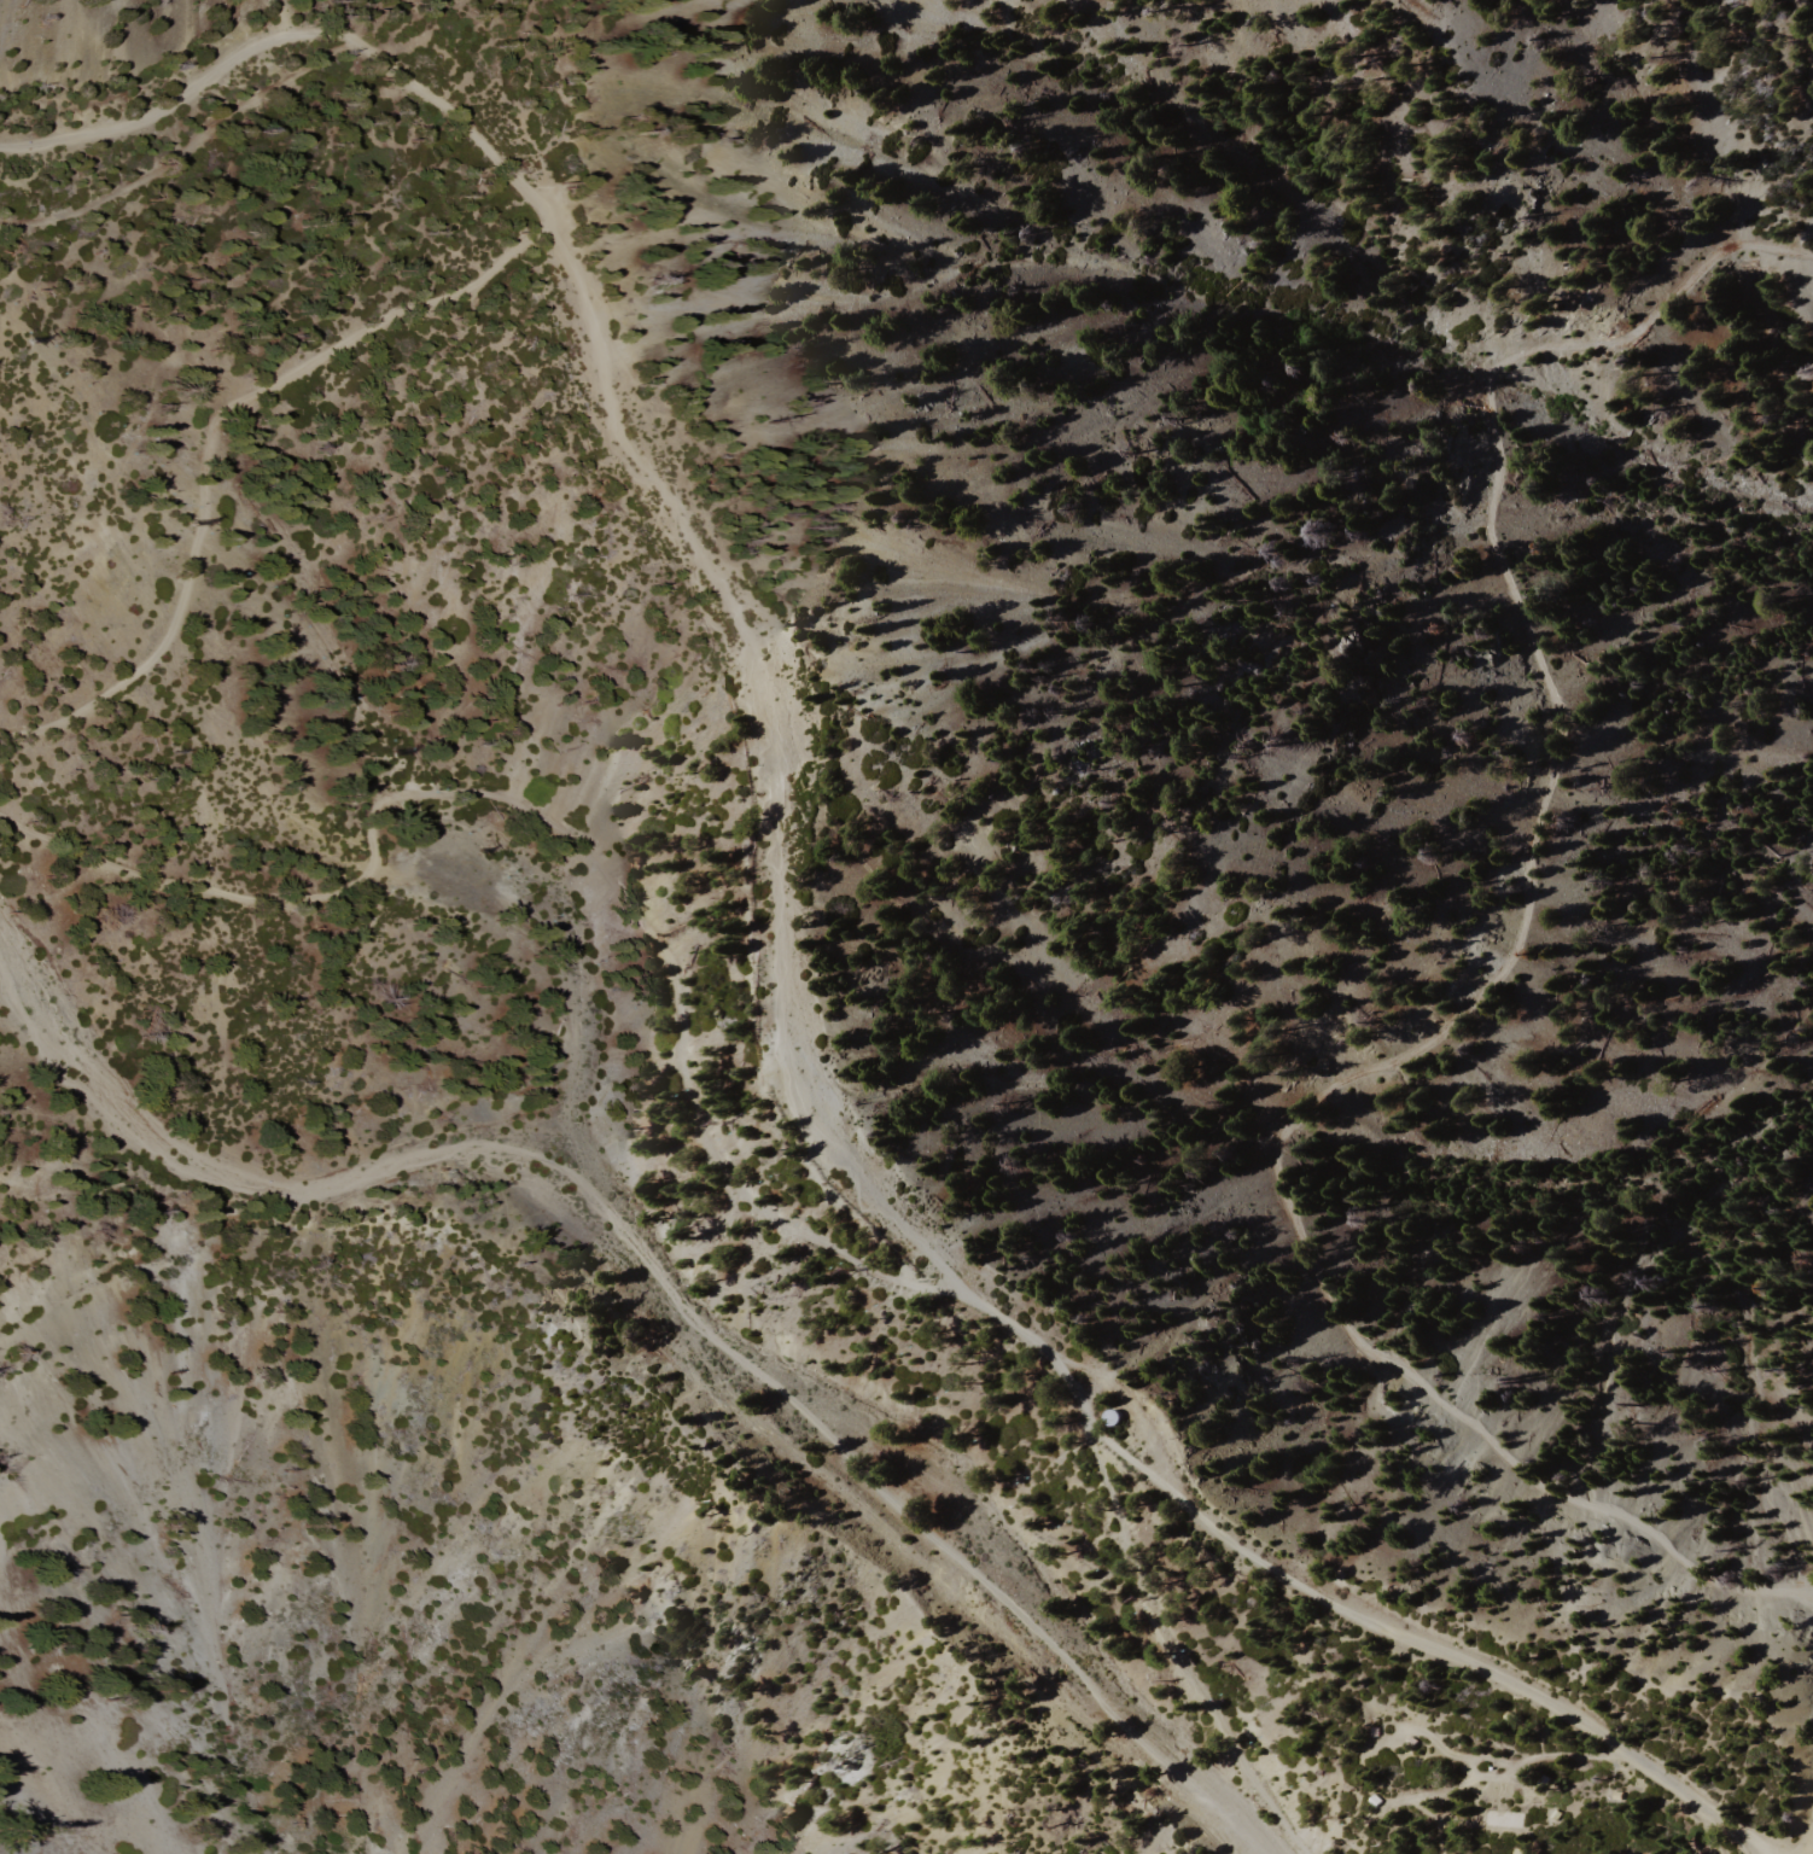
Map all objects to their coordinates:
road: (287, 39)
road: (182, 148)
aerialway pylon: (33, 340)
road: (211, 426)
aerialway pylon: (196, 525)
road: (766, 756)
road: (570, 838)
aerialway pylon: (485, 853)
road: (1480, 992)
ski resort: (582, 1096)
aerialway pylon: (723, 1123)
aerialway pylon: (851, 1267)
aerialway pylon: (1144, 1599)
road: (1333, 1605)
road: (1178, 1655)
aerialway pylon: (1337, 1819)
road: (1811, 1850)

